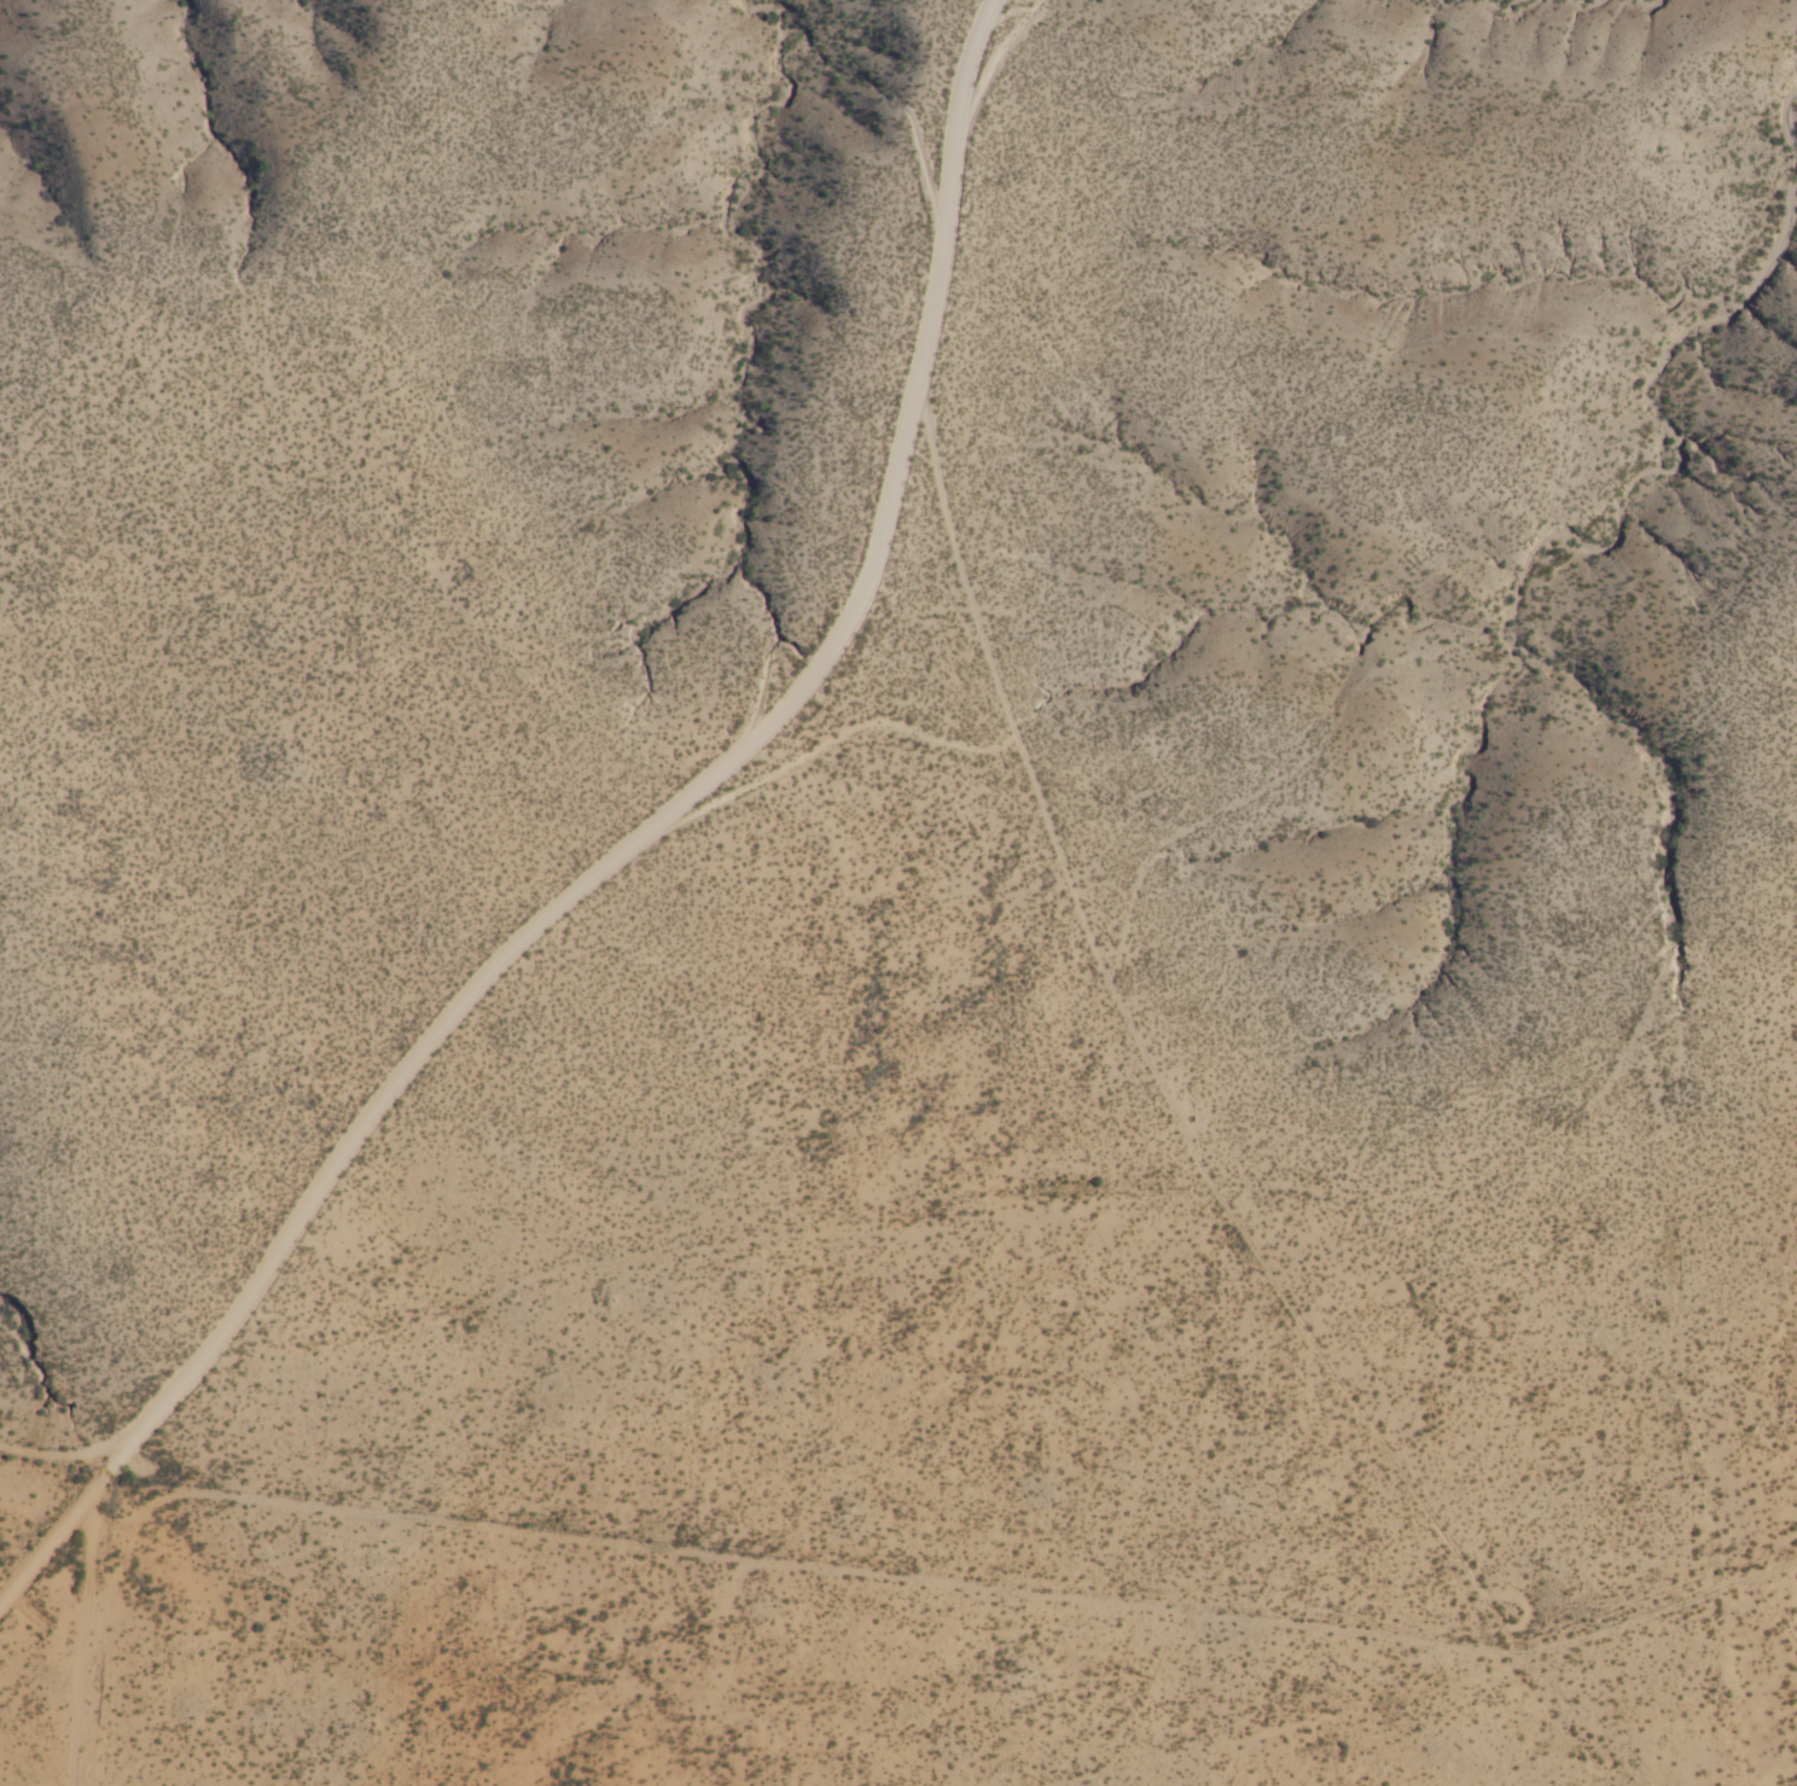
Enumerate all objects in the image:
road: (622, 857)
road: (1208, 1169)
road: (34, 1514)
road: (91, 1654)
road: (1670, 1670)
road: (1478, 1744)

